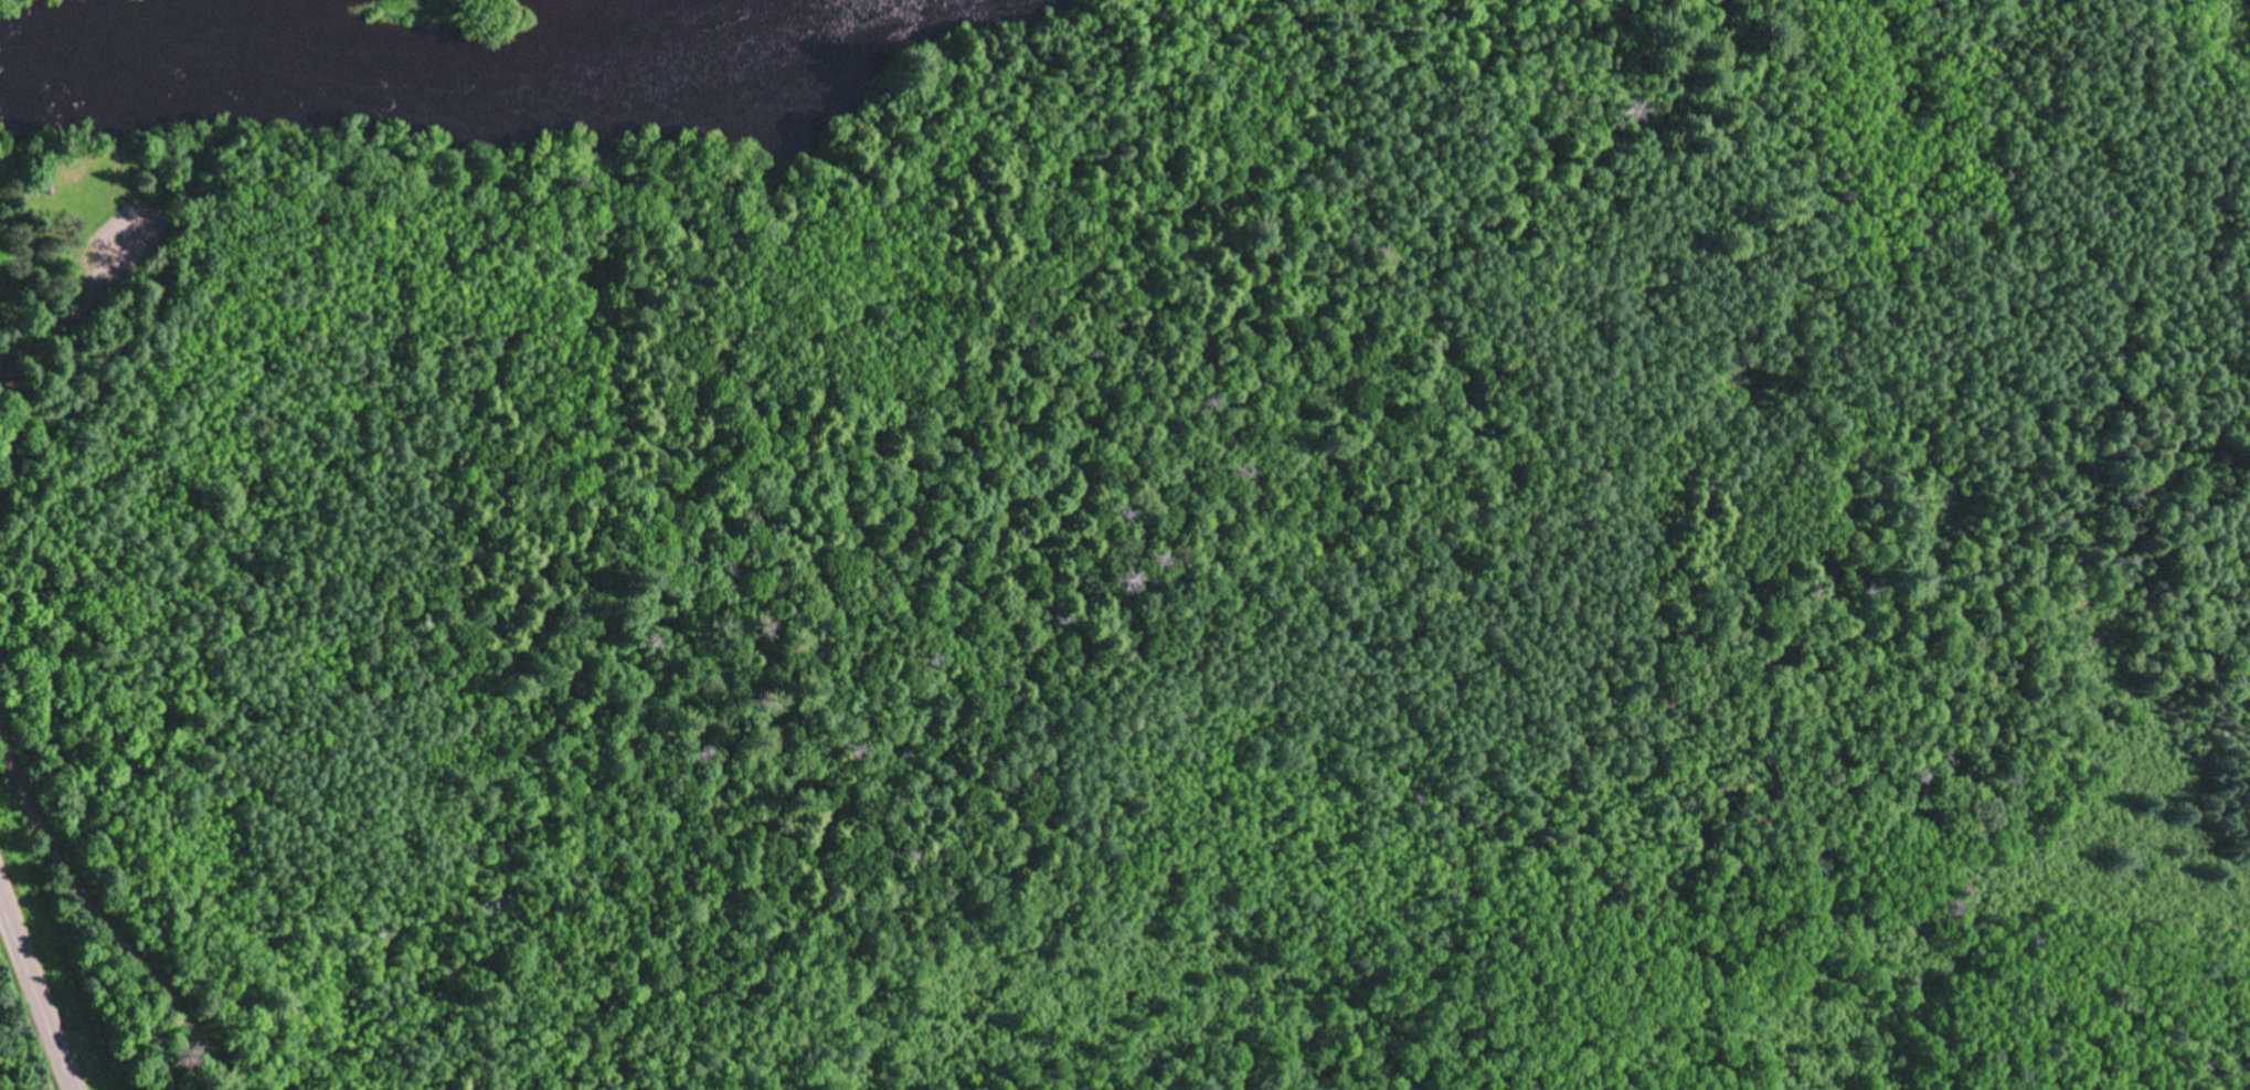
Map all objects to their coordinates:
river: (433, 80)
road: (34, 995)

